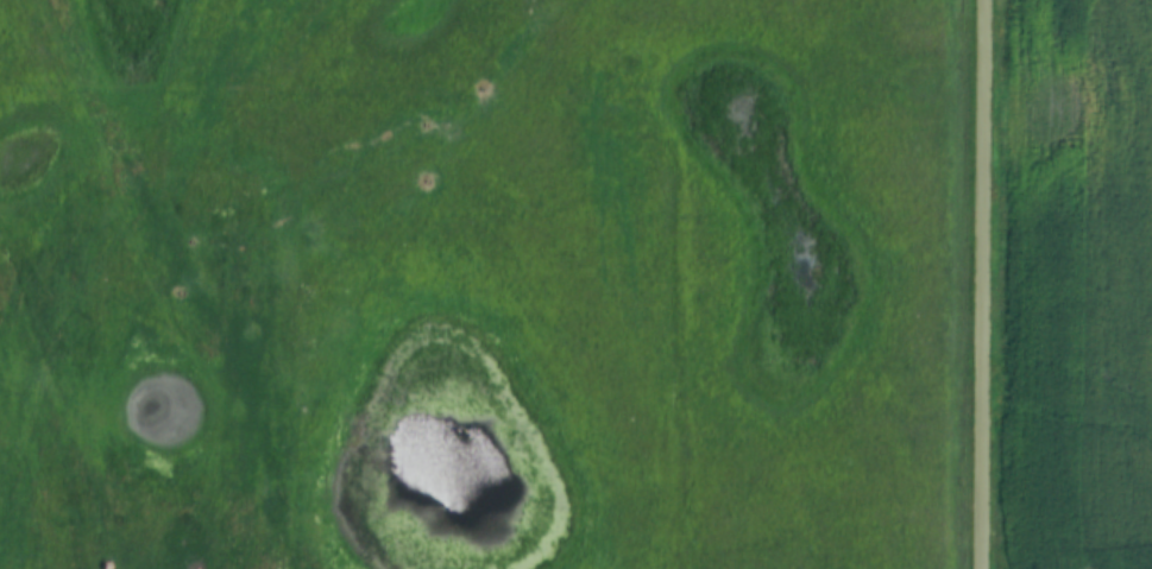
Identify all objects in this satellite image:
road: (993, 284)

